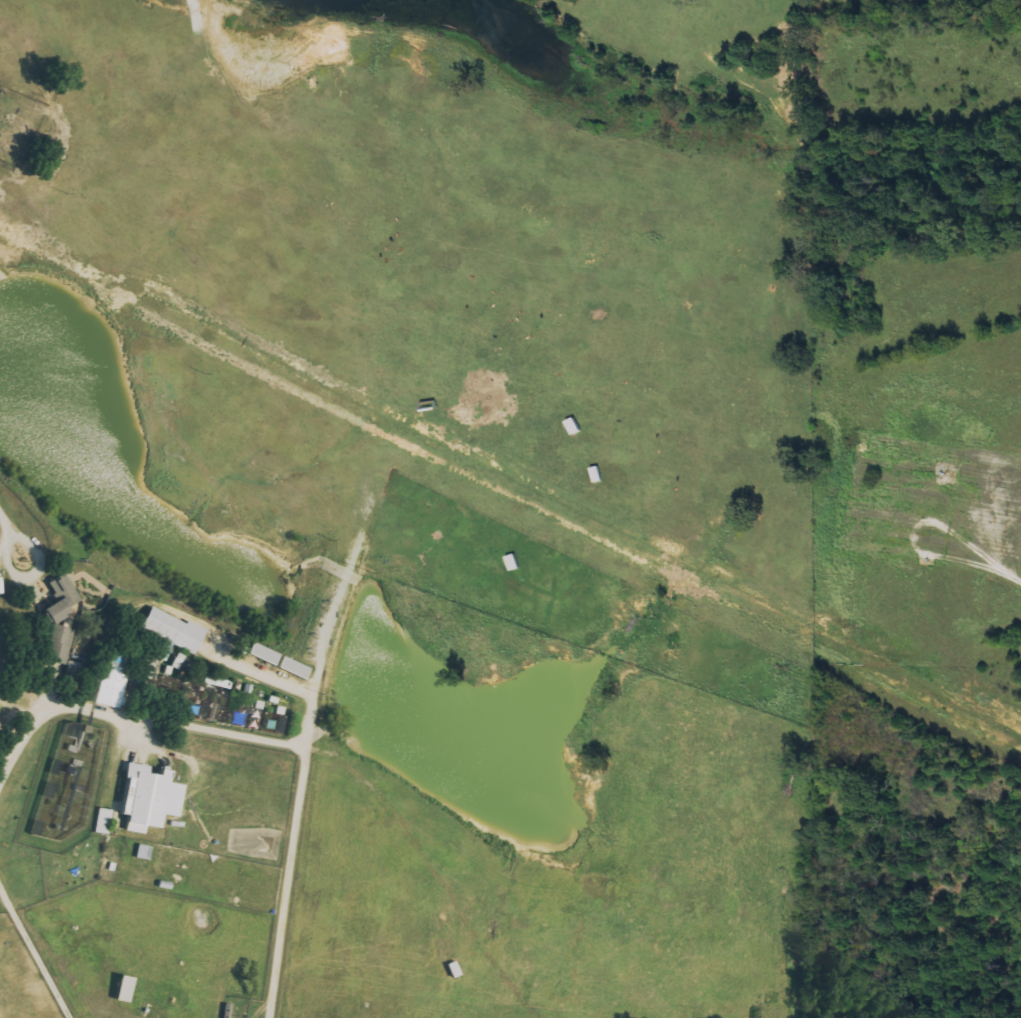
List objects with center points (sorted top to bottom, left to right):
road: (6, 520)
road: (29, 577)
building: (57, 598)
building: (171, 631)
building: (58, 645)
building: (259, 654)
building: (179, 662)
building: (290, 668)
building: (214, 682)
building: (111, 683)
road: (129, 712)
road: (299, 796)
building: (146, 798)
building: (101, 821)
building: (142, 853)
building: (442, 919)
building: (453, 970)
building: (119, 989)

